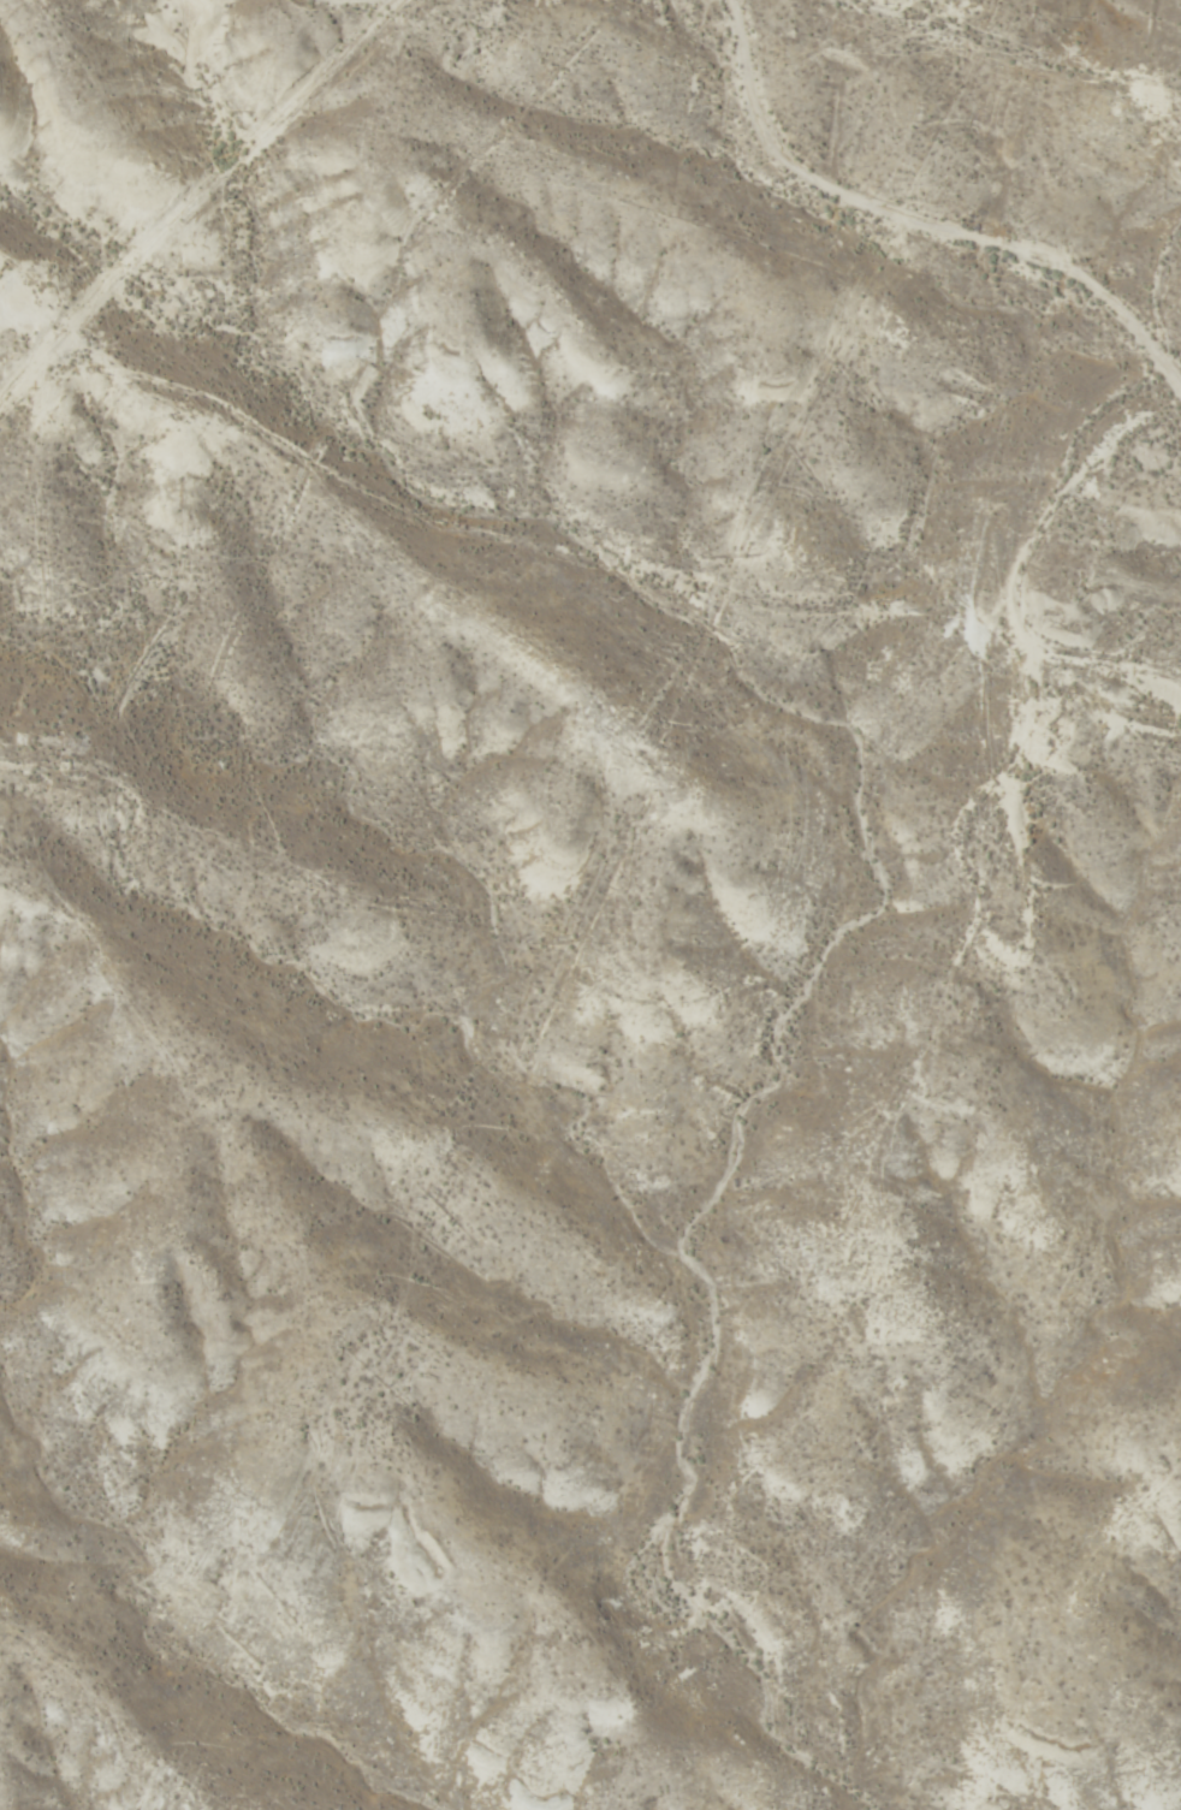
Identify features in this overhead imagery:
road: (878, 222)

